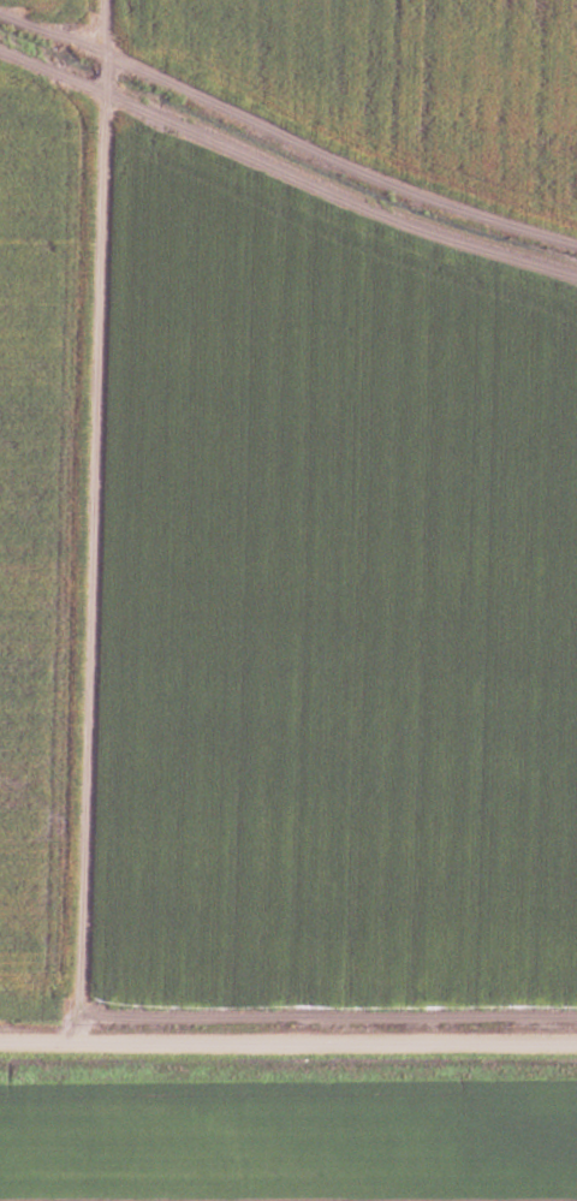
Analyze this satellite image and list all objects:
road: (287, 1045)

